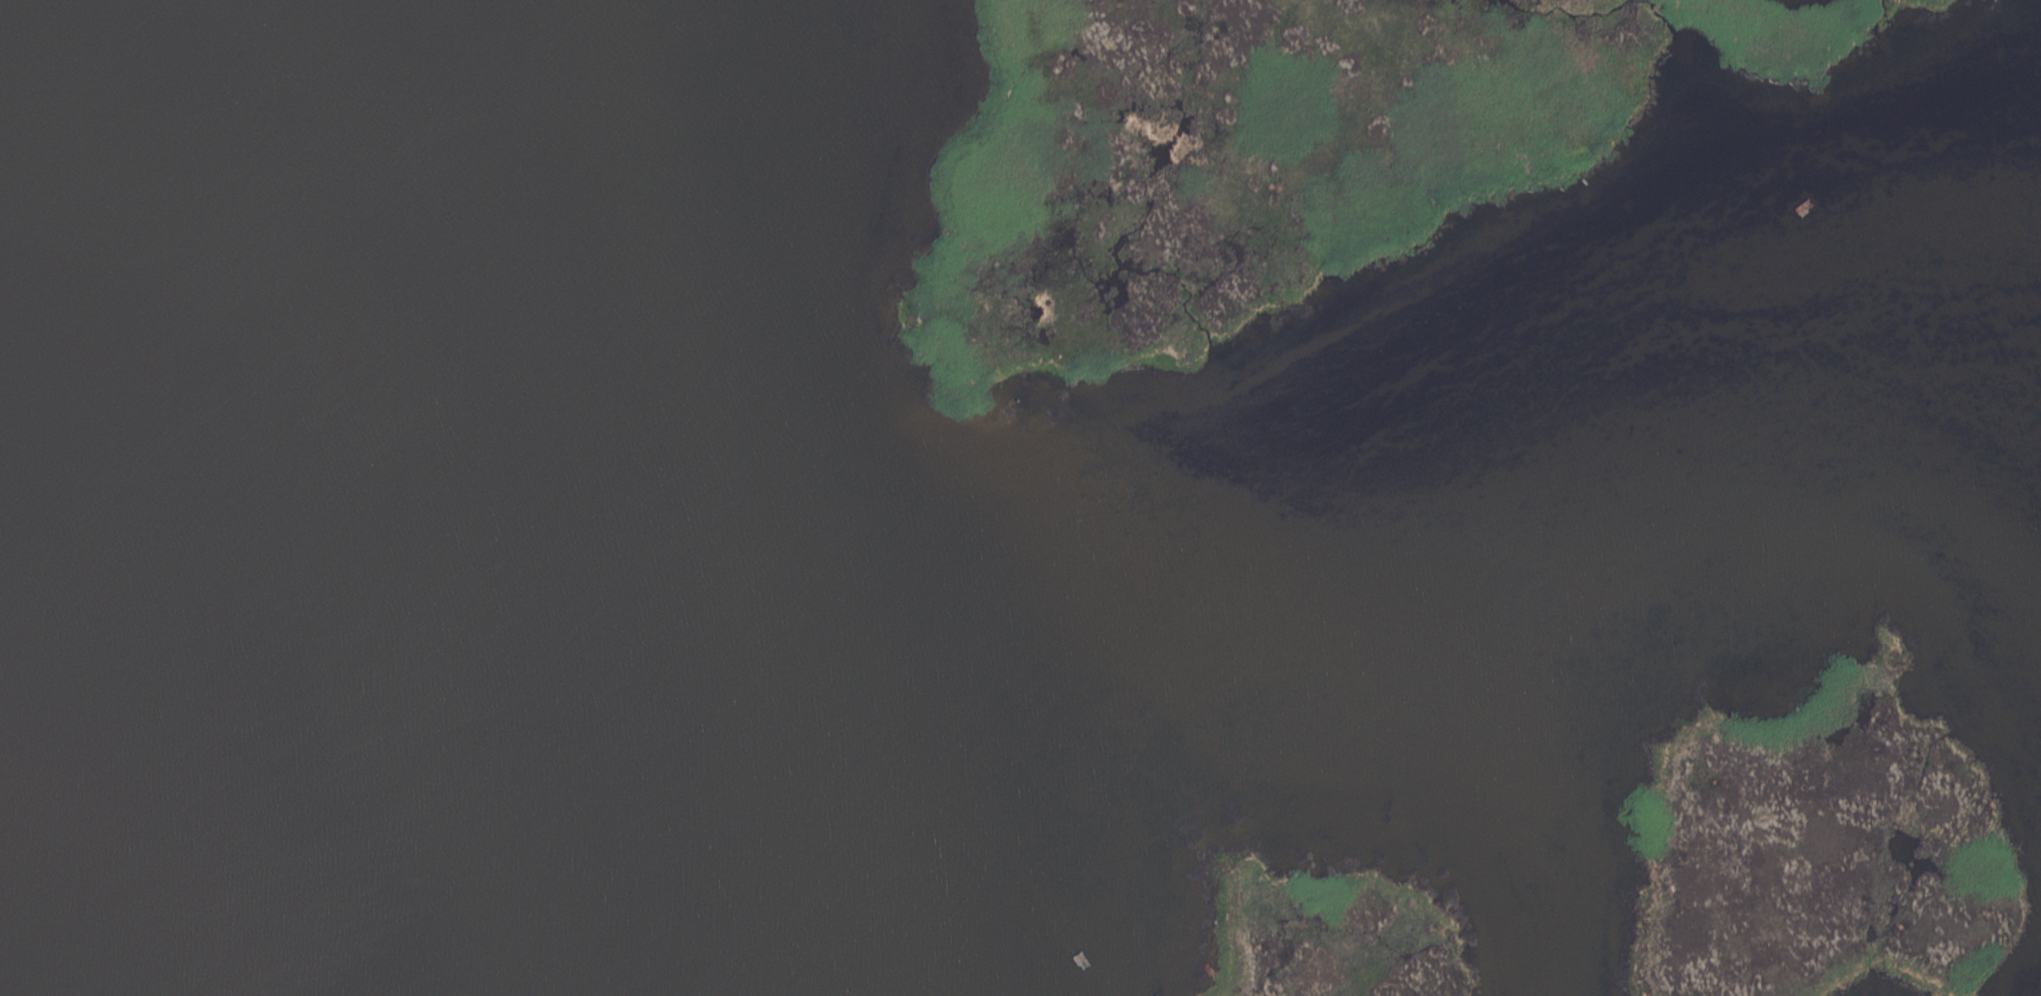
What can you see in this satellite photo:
river: (336, 498)

